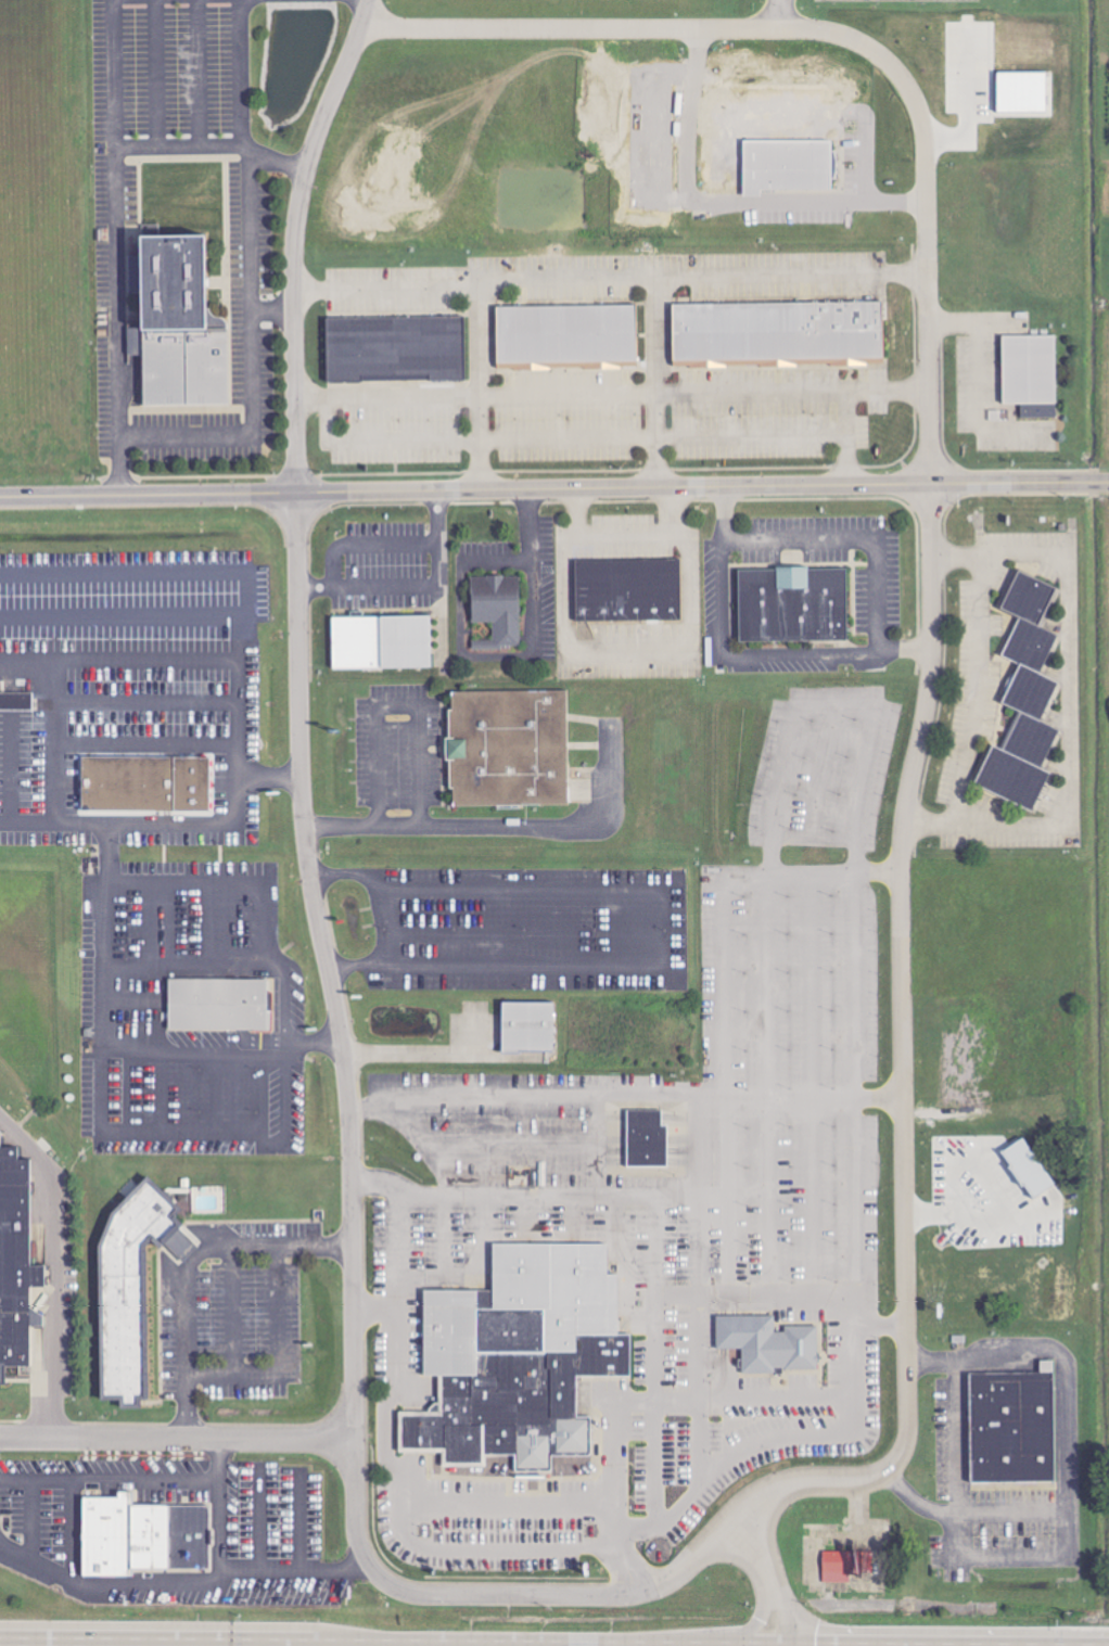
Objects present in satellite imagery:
road: (779, 14)
road: (652, 27)
building: (1022, 91)
road: (214, 143)
building: (788, 165)
road: (724, 202)
road: (294, 240)
road: (118, 247)
road: (610, 278)
road: (251, 285)
road: (272, 309)
building: (177, 324)
building: (778, 333)
building: (566, 337)
building: (133, 342)
building: (395, 349)
building: (1031, 374)
road: (658, 382)
road: (482, 388)
road: (968, 391)
road: (611, 393)
road: (847, 412)
road: (594, 436)
road: (553, 489)
road: (727, 512)
road: (627, 537)
road: (377, 544)
road: (876, 544)
road: (534, 571)
road: (724, 579)
road: (246, 583)
road: (460, 589)
building: (628, 590)
road: (538, 601)
building: (792, 605)
building: (497, 610)
road: (122, 618)
building: (382, 642)
road: (728, 649)
road: (793, 654)
road: (119, 661)
road: (976, 689)
building: (1025, 700)
building: (16, 701)
road: (148, 701)
road: (386, 709)
road: (55, 742)
road: (148, 747)
building: (508, 749)
road: (12, 771)
building: (144, 786)
road: (58, 824)
road: (171, 826)
road: (502, 827)
road: (902, 870)
road: (382, 915)
road: (100, 960)
road: (852, 964)
building: (219, 1005)
road: (281, 1010)
building: (527, 1029)
road: (341, 1035)
road: (431, 1061)
road: (648, 1096)
road: (747, 1096)
road: (524, 1097)
building: (647, 1140)
building: (1029, 1169)
road: (677, 1197)
road: (932, 1211)
building: (16, 1263)
road: (61, 1265)
road: (190, 1271)
road: (398, 1271)
building: (132, 1288)
building: (767, 1343)
building: (520, 1360)
building: (1014, 1427)
road: (1068, 1427)
road: (770, 1437)
road: (178, 1438)
road: (958, 1457)
road: (221, 1460)
road: (111, 1480)
road: (456, 1505)
road: (220, 1529)
building: (143, 1536)
building: (844, 1564)
road: (252, 1569)
road: (770, 1578)
road: (68, 1580)
road: (566, 1596)
road: (754, 1620)
road: (98, 1645)

